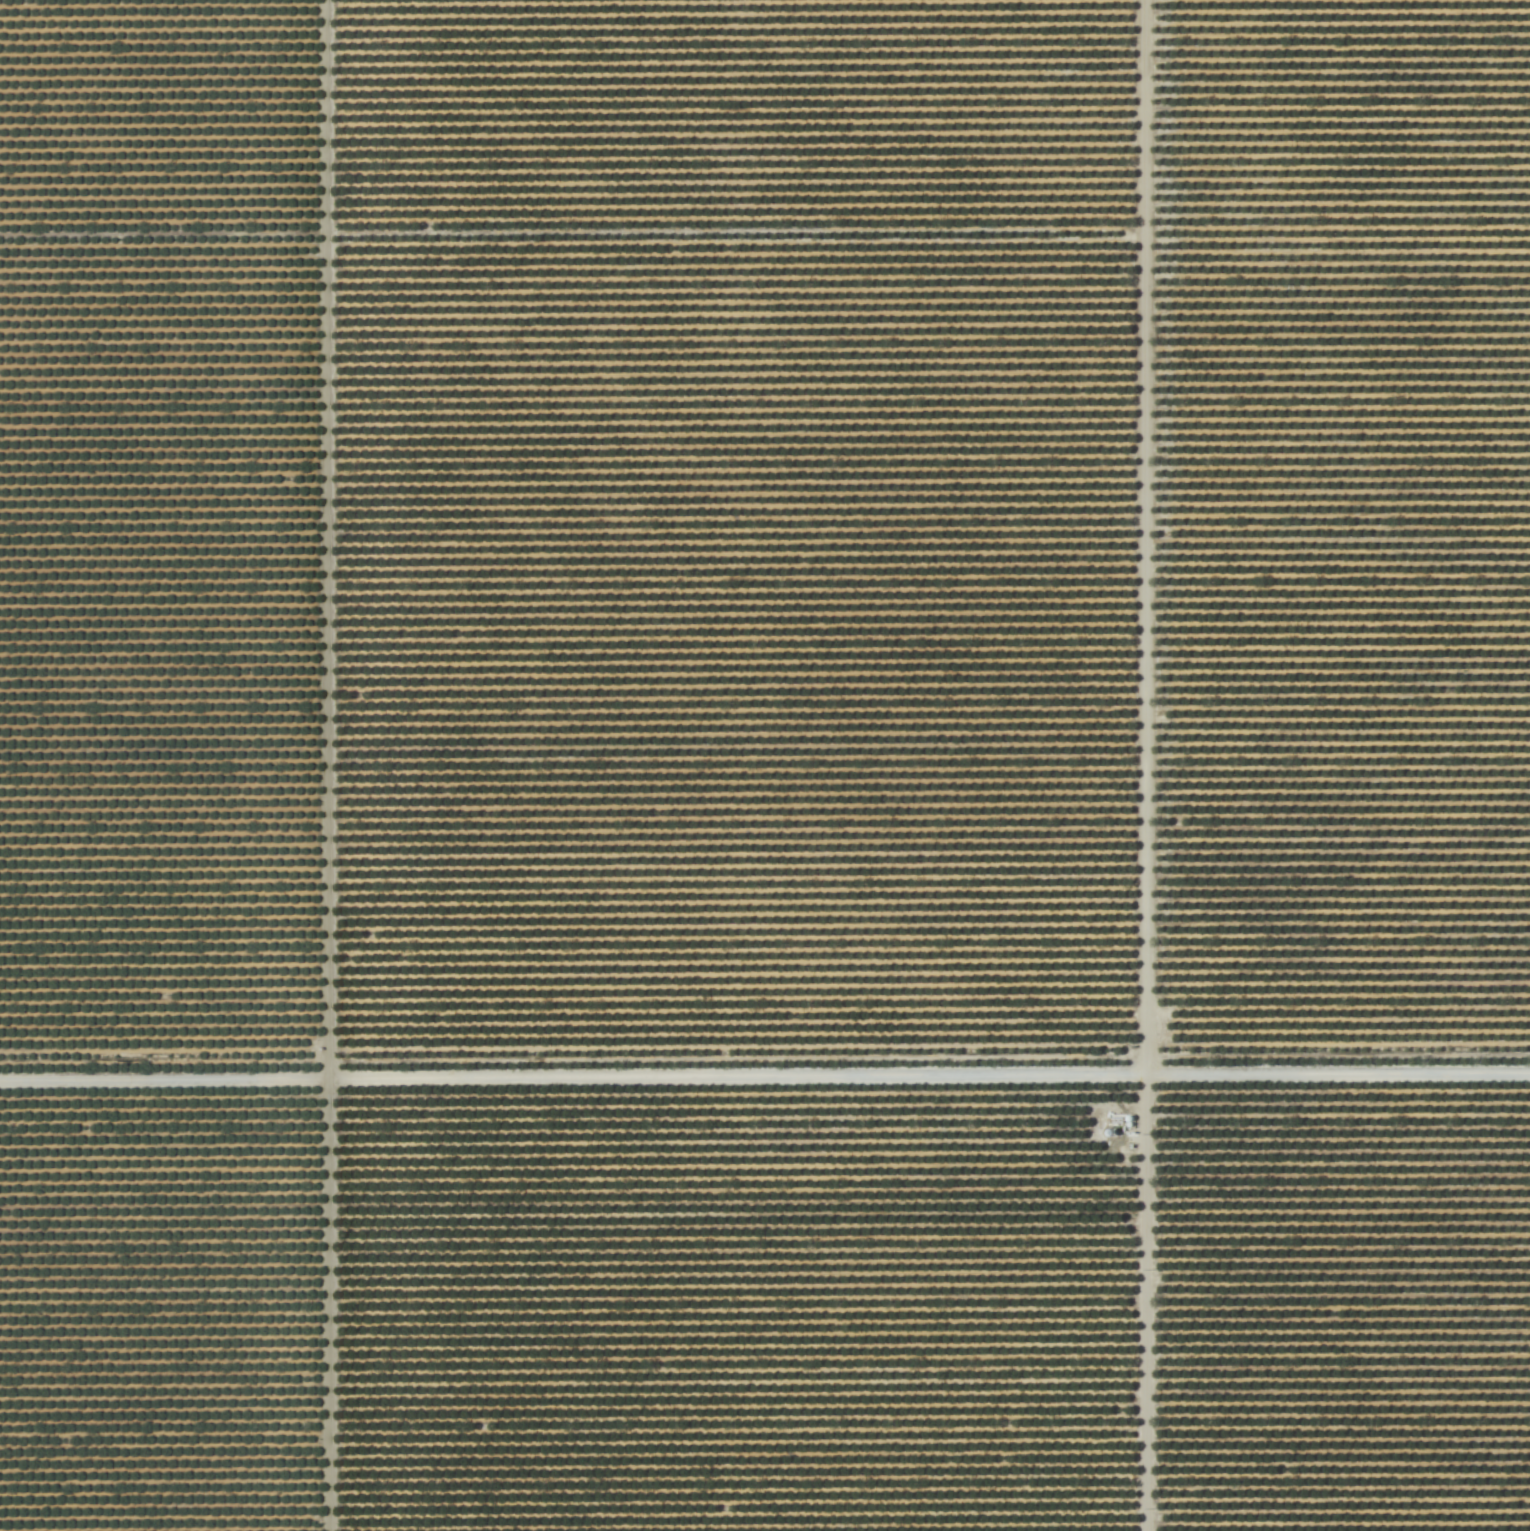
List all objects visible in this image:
crop: (765, 765)

